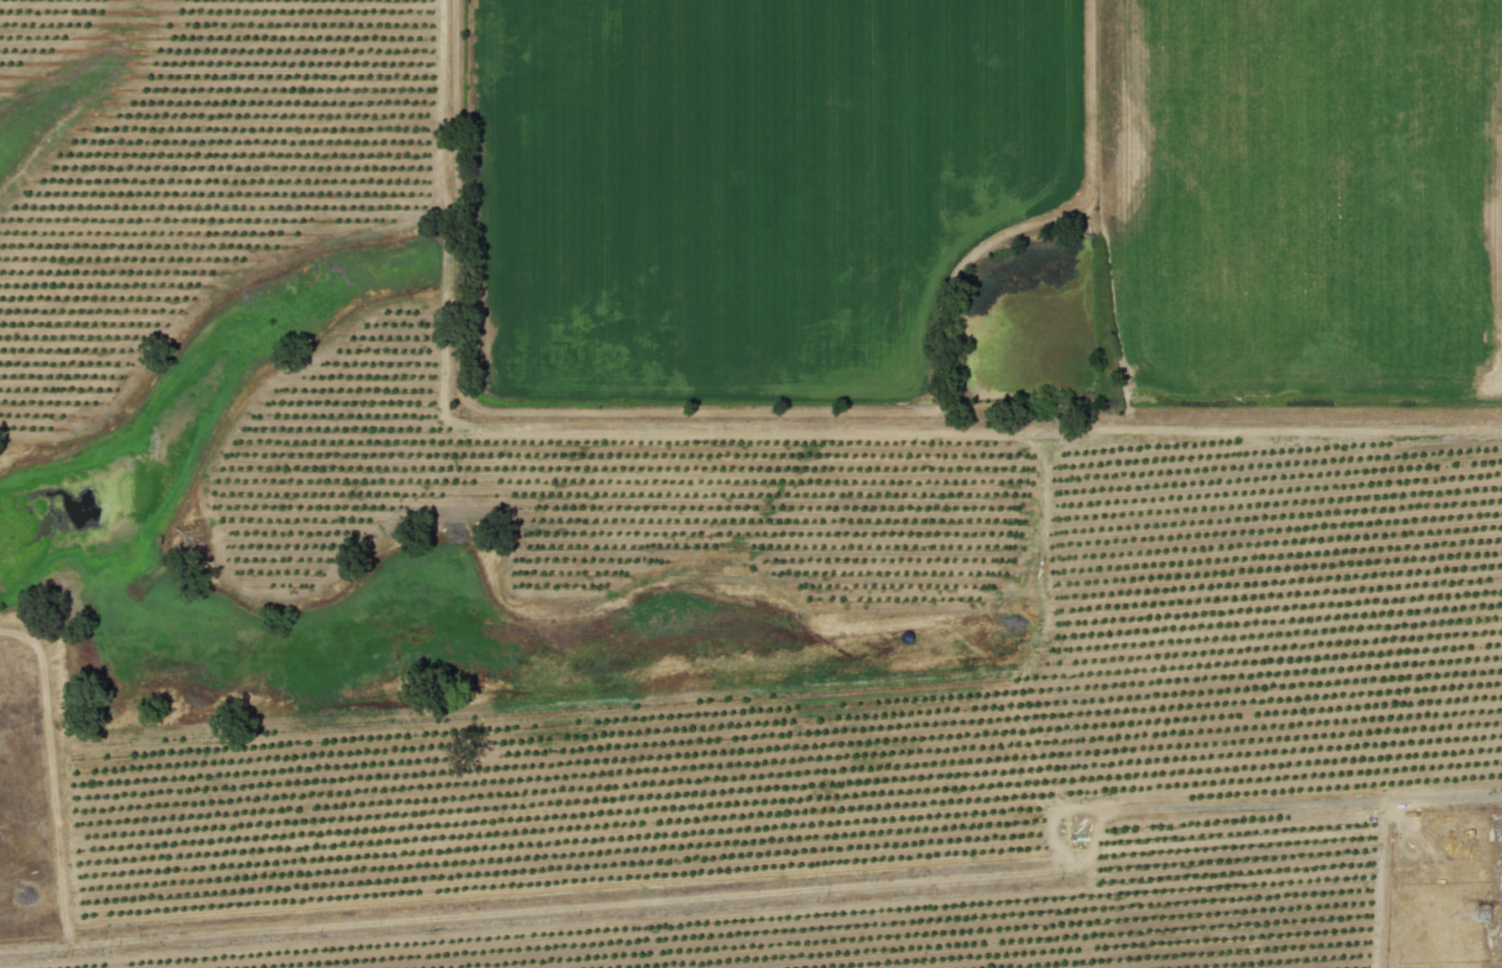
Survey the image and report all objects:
power tower: (1487, 919)

